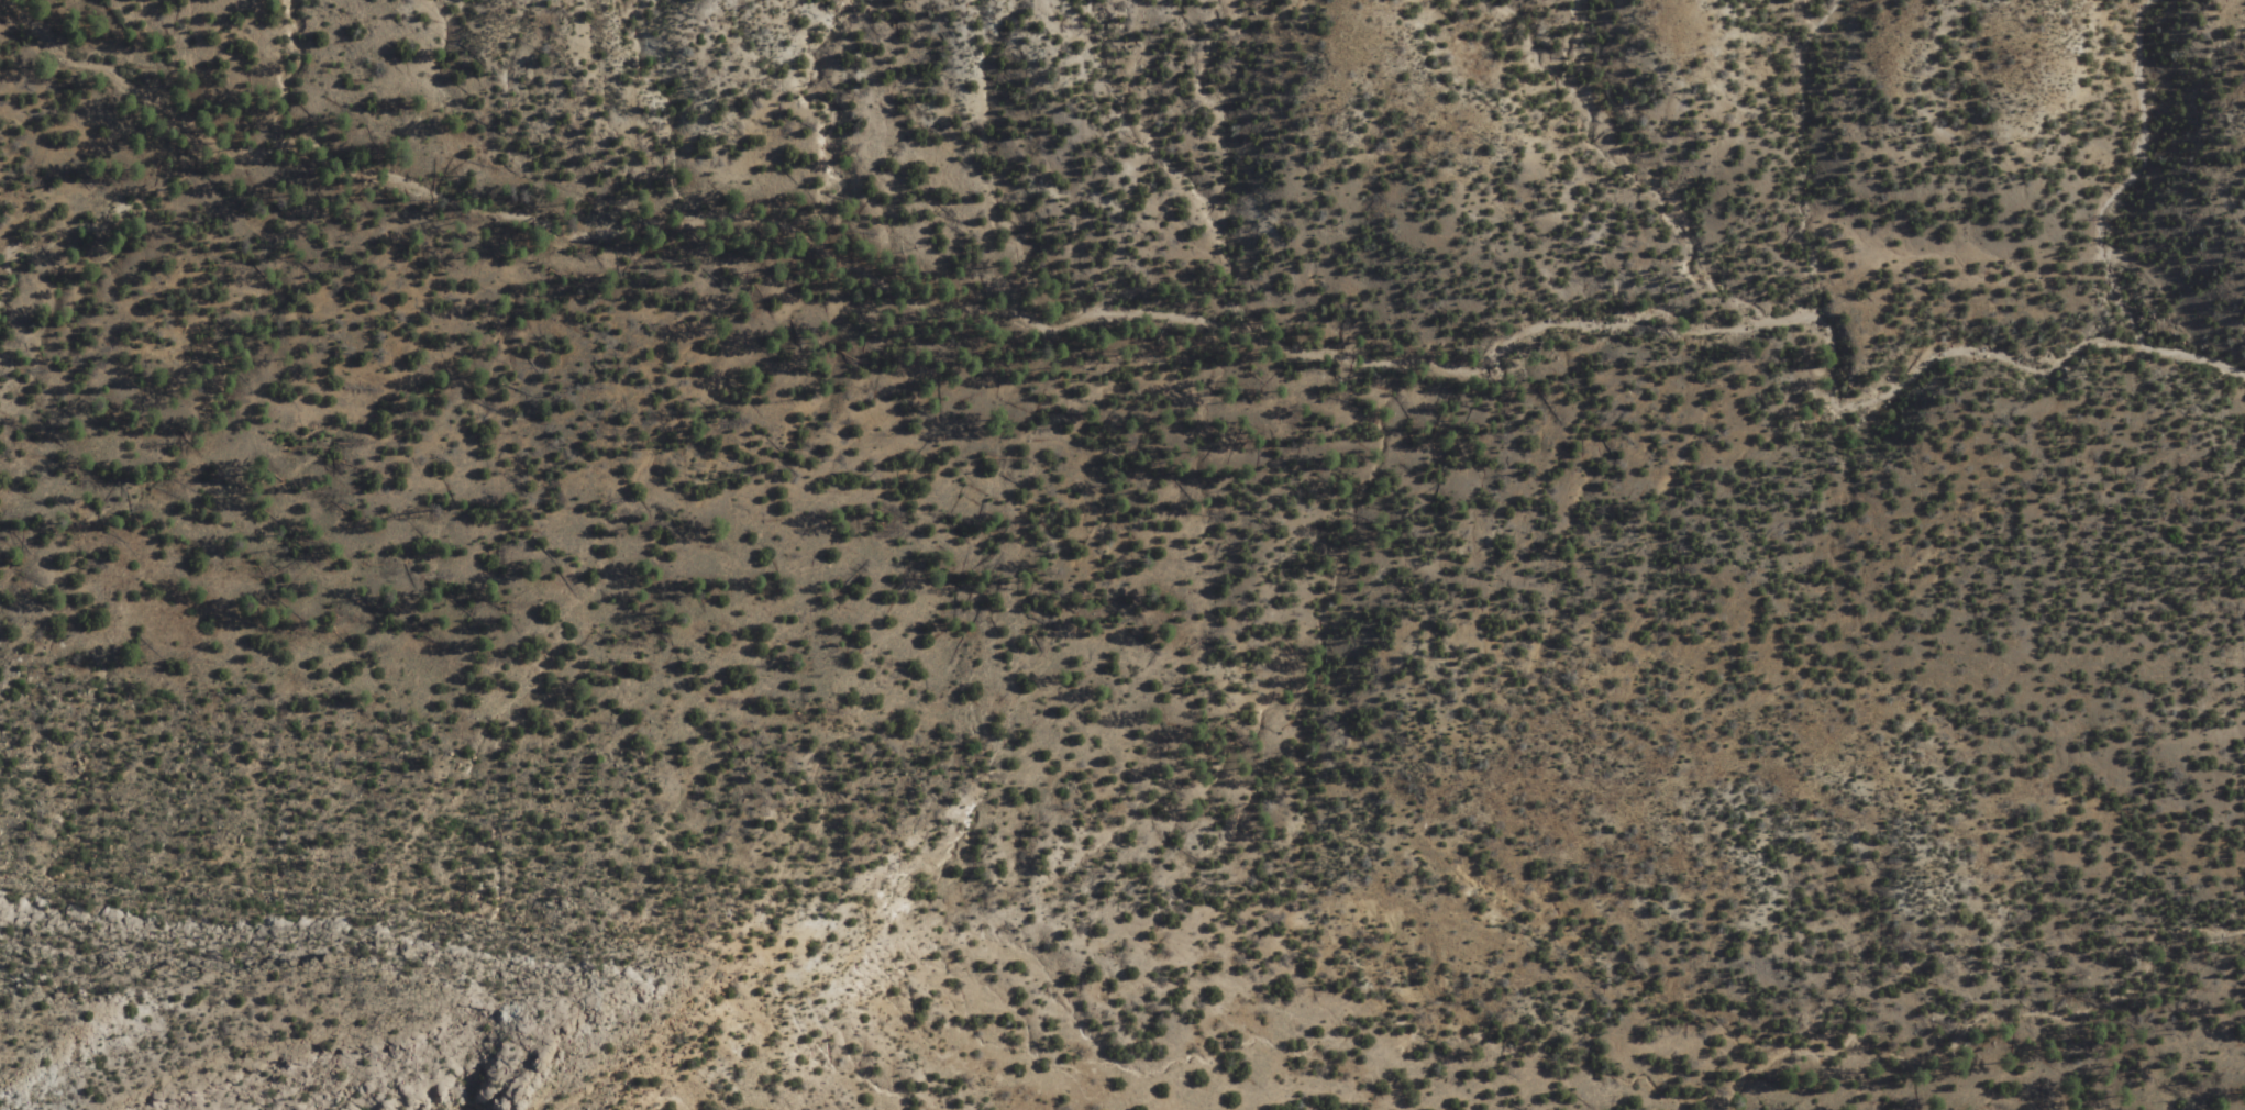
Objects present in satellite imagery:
road: (30, 1019)

